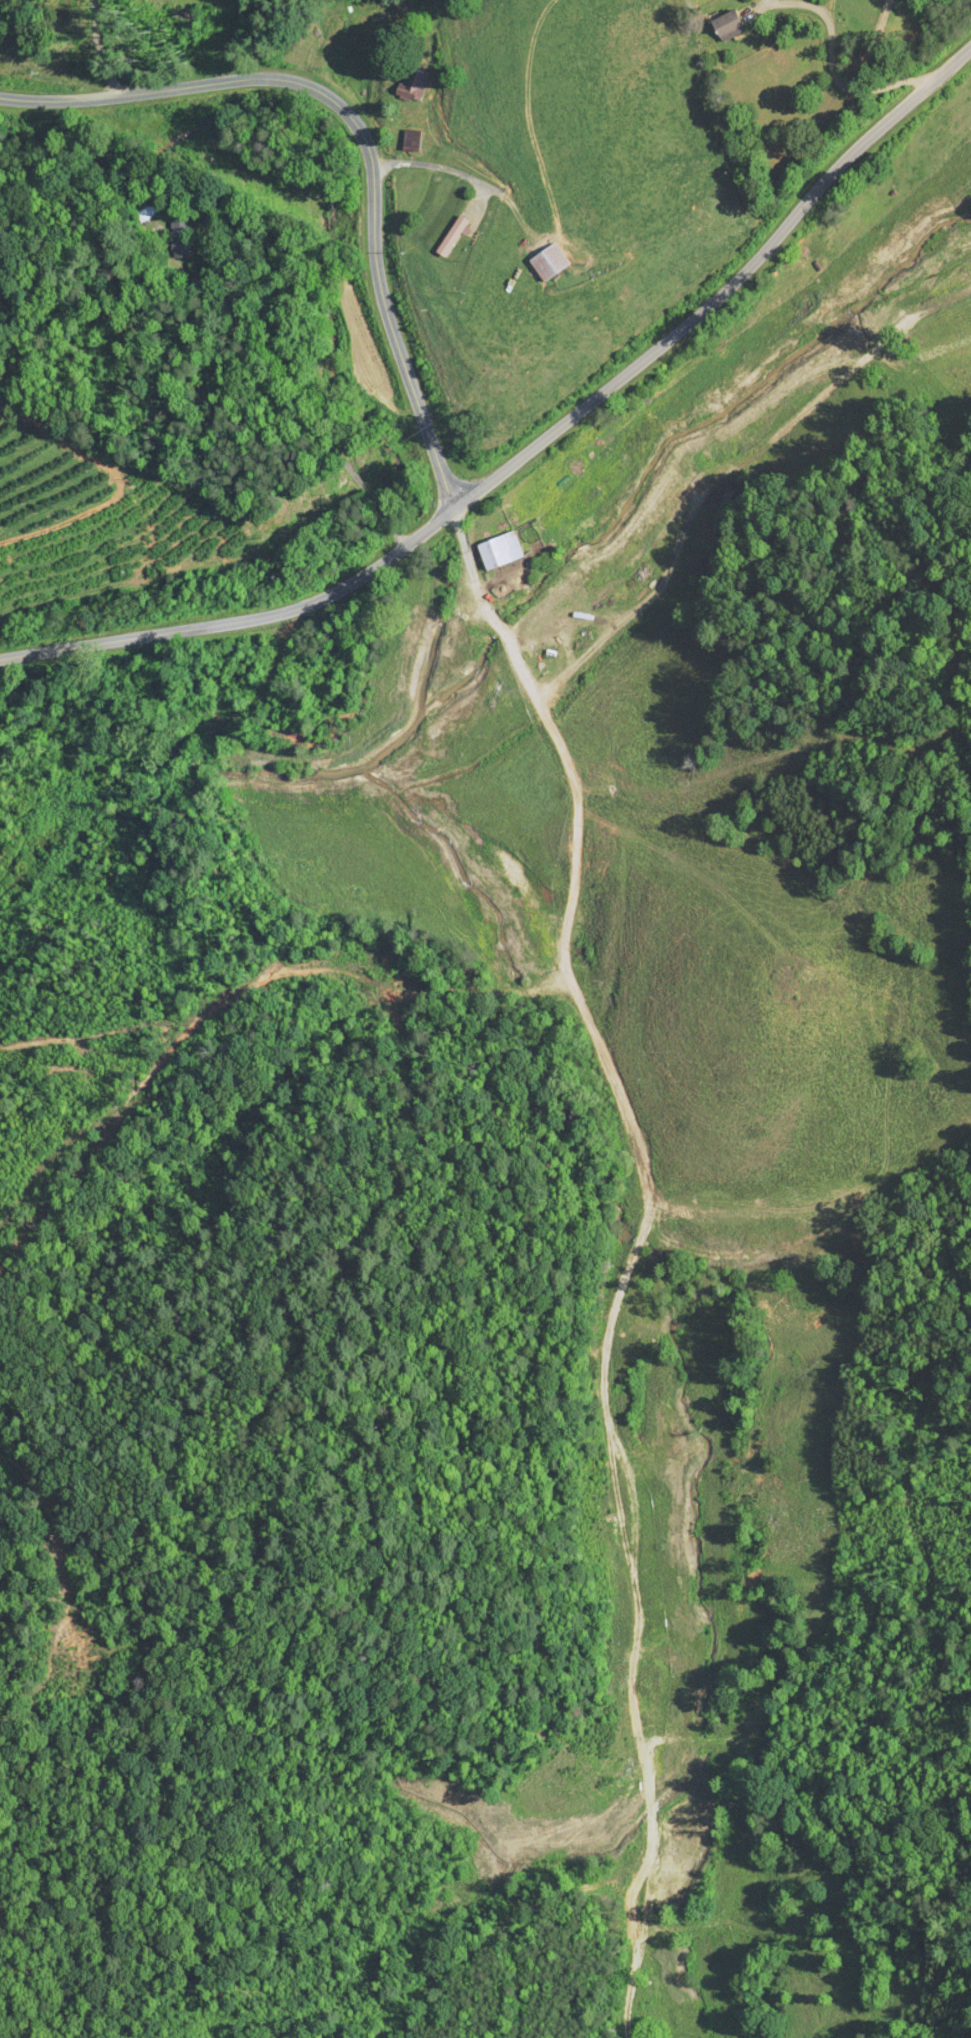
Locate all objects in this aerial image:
building: (723, 25)
road: (101, 49)
building: (408, 82)
road: (844, 84)
road: (363, 136)
road: (428, 165)
building: (142, 207)
building: (448, 235)
building: (176, 239)
building: (546, 261)
road: (303, 424)
river: (672, 437)
road: (534, 447)
building: (497, 549)
road: (468, 562)
road: (502, 633)
river: (400, 757)
river: (181, 761)
road: (567, 923)
road: (642, 1221)
road: (618, 1300)

